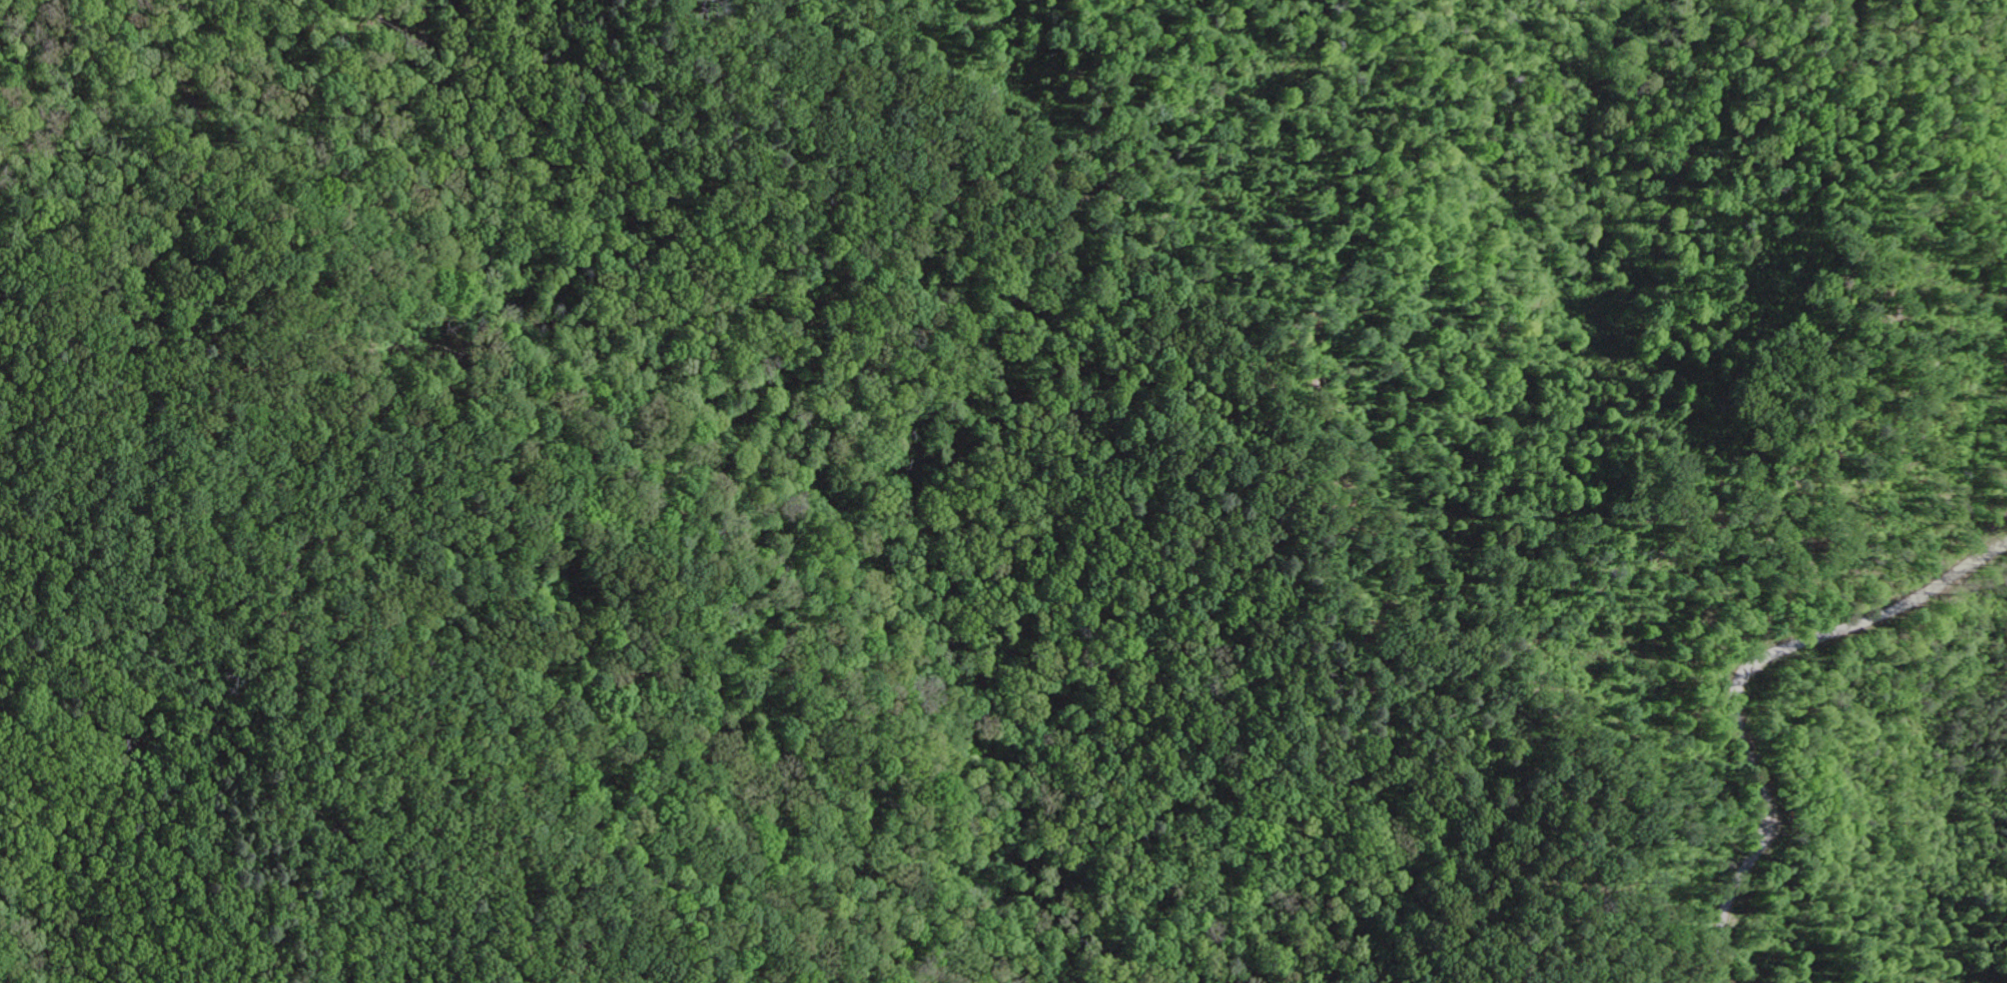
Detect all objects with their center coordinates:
road: (1739, 688)

